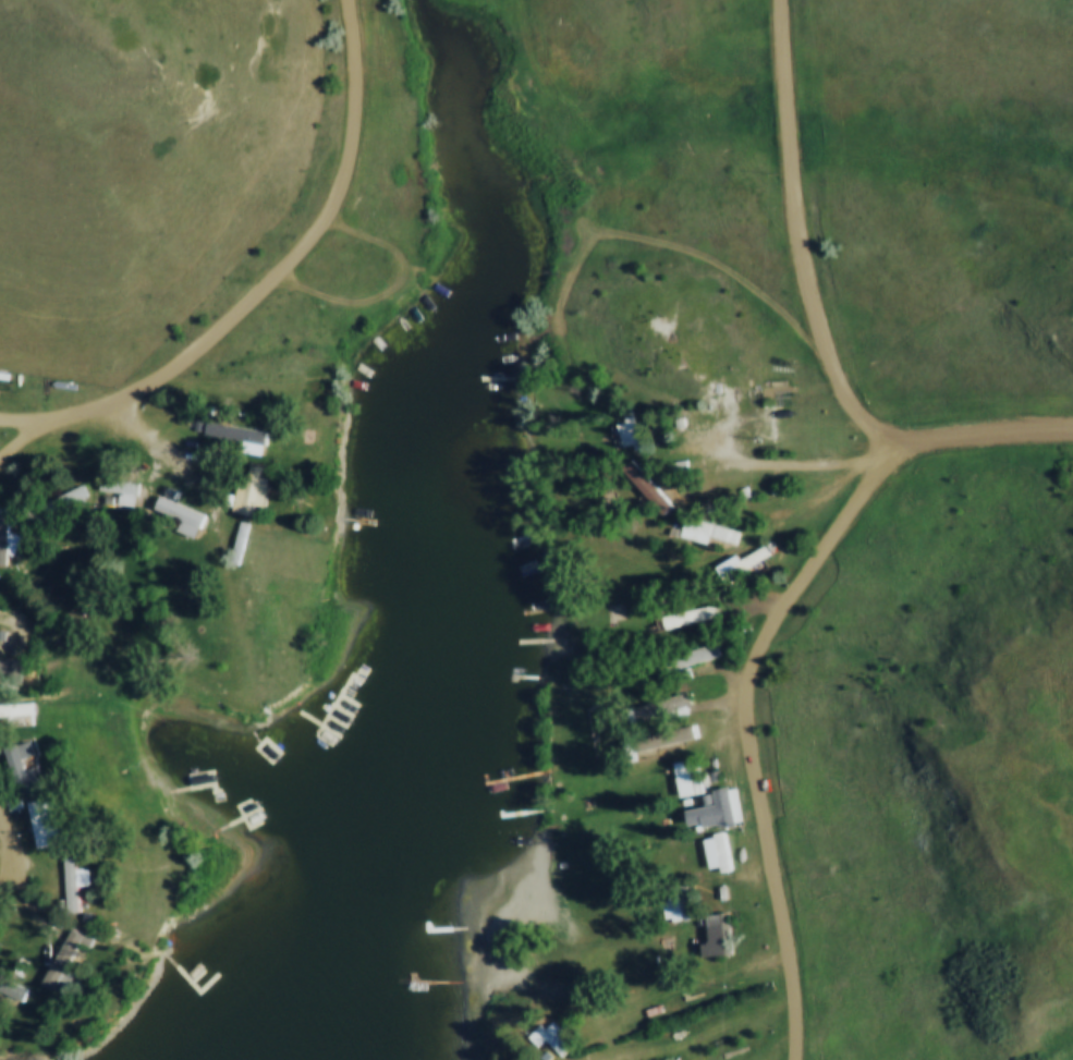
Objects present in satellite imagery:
road: (664, 247)
road: (271, 285)
road: (381, 285)
road: (824, 324)
building: (241, 434)
building: (629, 434)
road: (21, 441)
building: (155, 458)
road: (801, 464)
building: (655, 486)
building: (123, 487)
building: (258, 490)
building: (70, 500)
building: (184, 515)
building: (708, 532)
building: (7, 539)
building: (747, 561)
road: (106, 585)
building: (688, 616)
building: (694, 654)
building: (663, 705)
building: (19, 711)
road: (748, 733)
building: (660, 739)
building: (22, 765)
building: (687, 775)
building: (728, 804)
building: (44, 820)
road: (14, 850)
building: (717, 851)
building: (78, 884)
building: (679, 901)
building: (718, 935)
building: (65, 965)
building: (553, 1038)

